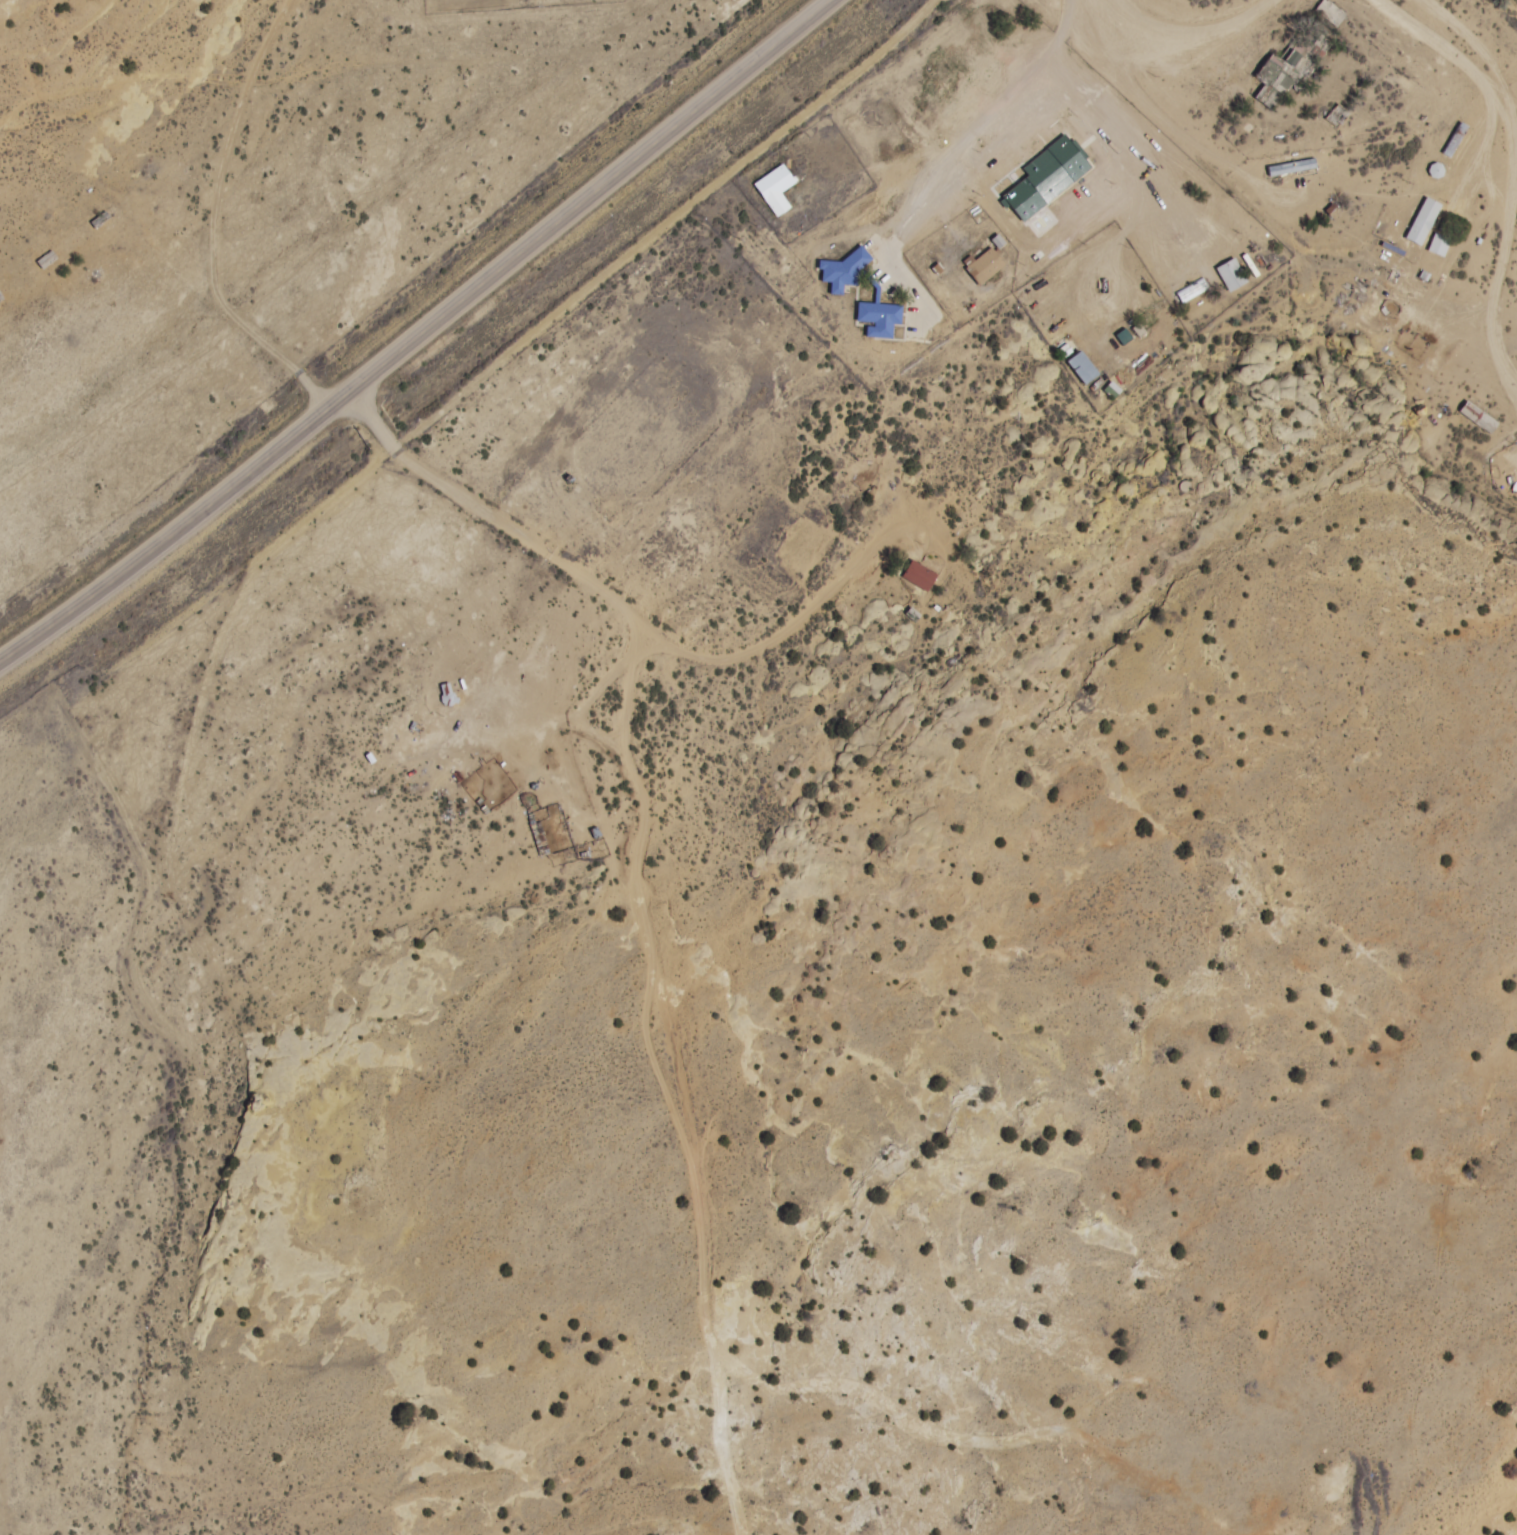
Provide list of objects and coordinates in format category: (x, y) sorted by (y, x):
river: (1505, 13)
road: (1207, 16)
building: (1329, 16)
building: (1285, 72)
building: (989, 77)
road: (1176, 111)
road: (1516, 147)
building: (1290, 168)
building: (1046, 178)
building: (775, 189)
road: (213, 221)
building: (1409, 232)
building: (983, 265)
building: (843, 272)
building: (1230, 275)
building: (878, 319)
road: (417, 335)
road: (666, 361)
building: (1081, 368)
road: (1509, 372)
building: (1478, 418)
road: (479, 508)
building: (919, 576)
road: (796, 891)
road: (1045, 1438)

